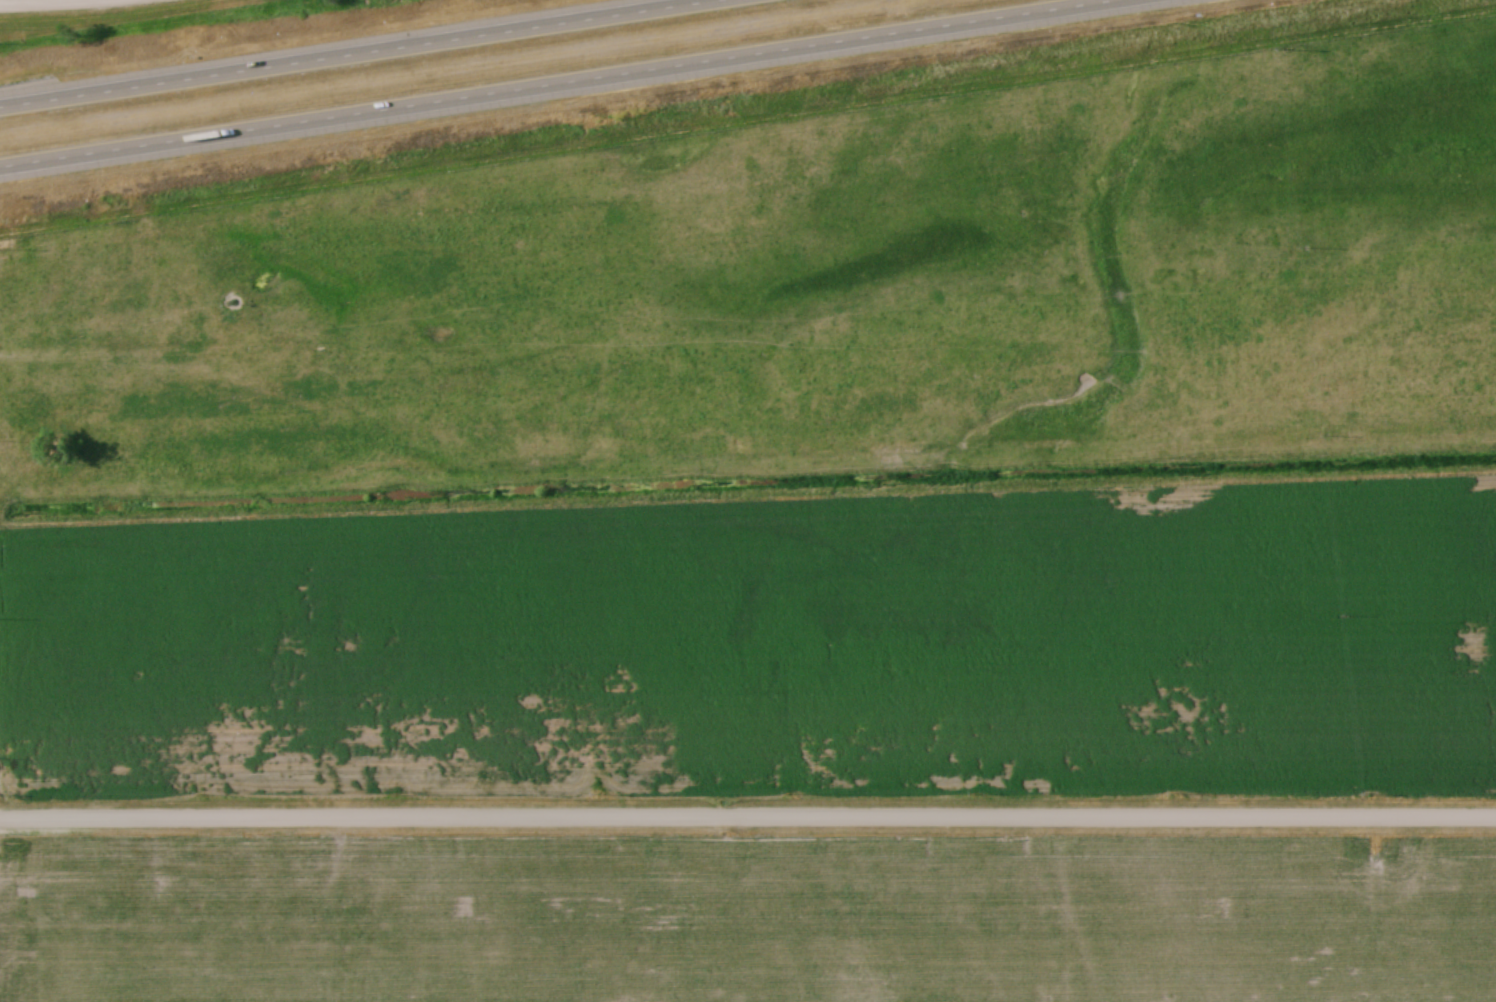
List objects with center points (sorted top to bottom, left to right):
road: (56, 5)
road: (349, 52)
road: (560, 83)
road: (748, 820)

